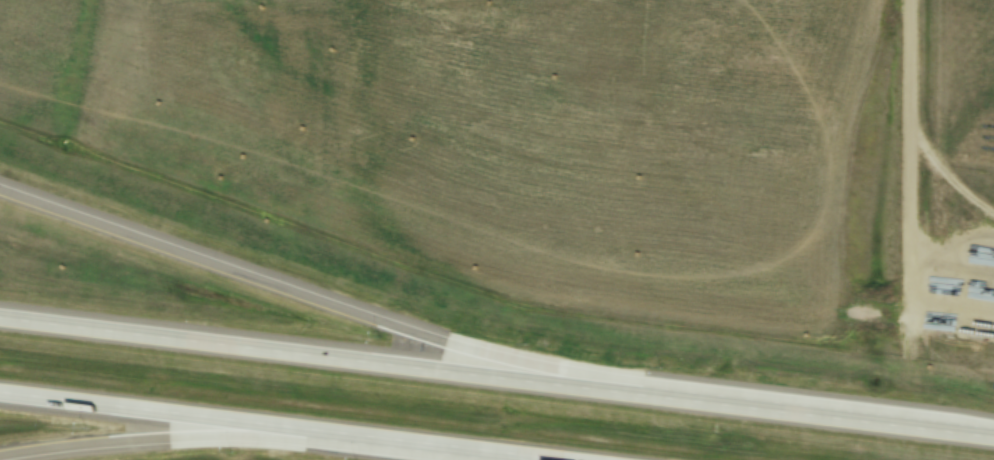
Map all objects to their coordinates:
road: (910, 179)
road: (372, 319)
road: (497, 380)
road: (271, 426)
road: (250, 440)

